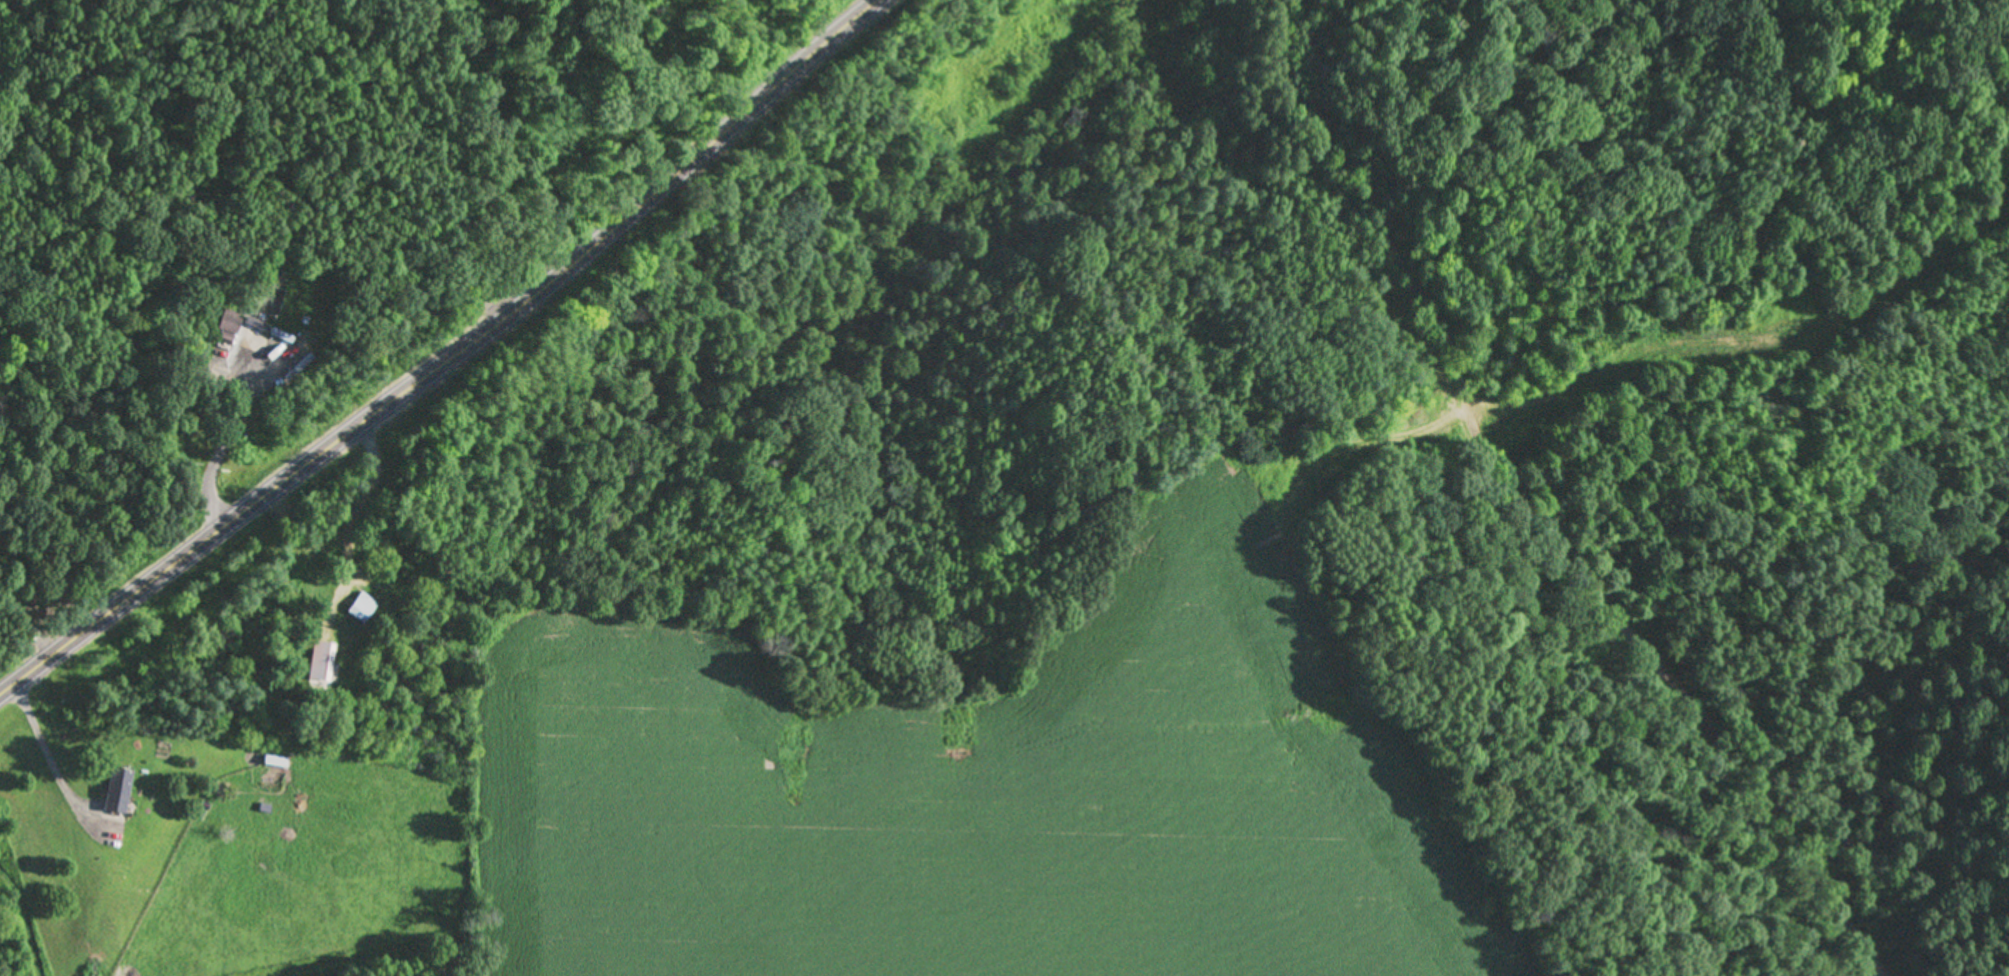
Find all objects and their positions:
building: (273, 295)
building: (228, 326)
road: (444, 357)
road: (1531, 504)
building: (362, 608)
building: (321, 662)
building: (117, 791)

